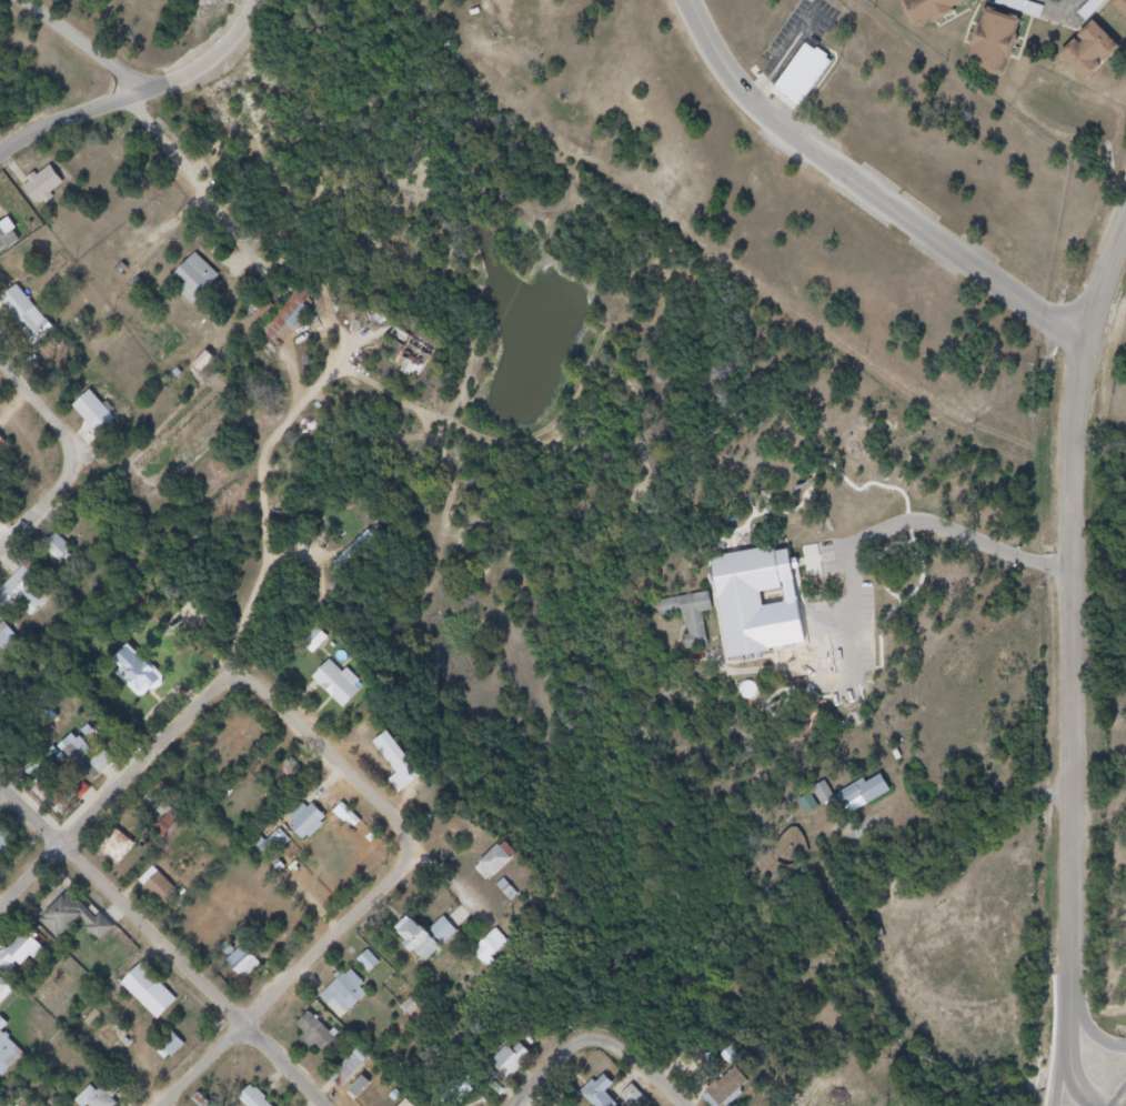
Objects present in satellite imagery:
road: (1070, 2)
building: (1124, 6)
building: (938, 11)
building: (1002, 44)
road: (88, 46)
road: (213, 56)
building: (1098, 59)
building: (810, 81)
road: (71, 117)
road: (867, 188)
building: (51, 192)
road: (217, 198)
building: (203, 284)
road: (1103, 286)
building: (289, 316)
building: (36, 324)
road: (285, 359)
road: (43, 409)
building: (104, 421)
building: (6, 452)
road: (268, 502)
road: (42, 514)
road: (969, 536)
building: (59, 547)
road: (299, 551)
building: (67, 560)
building: (32, 599)
building: (692, 616)
building: (756, 617)
building: (315, 642)
building: (9, 646)
building: (148, 680)
building: (346, 697)
road: (1074, 726)
building: (90, 767)
road: (344, 775)
building: (406, 777)
building: (865, 793)
building: (825, 794)
road: (122, 796)
building: (316, 829)
building: (274, 844)
building: (9, 846)
building: (123, 852)
building: (499, 861)
building: (504, 878)
building: (169, 894)
building: (83, 923)
building: (444, 932)
road: (163, 945)
building: (434, 948)
building: (492, 948)
building: (20, 955)
building: (33, 964)
building: (252, 968)
road: (285, 991)
building: (358, 994)
building: (7, 995)
building: (158, 998)
building: (324, 1037)
road: (1097, 1038)
building: (173, 1046)
building: (12, 1056)
road: (1070, 1059)
building: (513, 1060)
building: (352, 1067)
road: (571, 1069)
road: (644, 1069)
building: (517, 1074)
building: (726, 1087)
building: (635, 1097)
building: (606, 1098)
building: (100, 1100)
building: (259, 1100)

